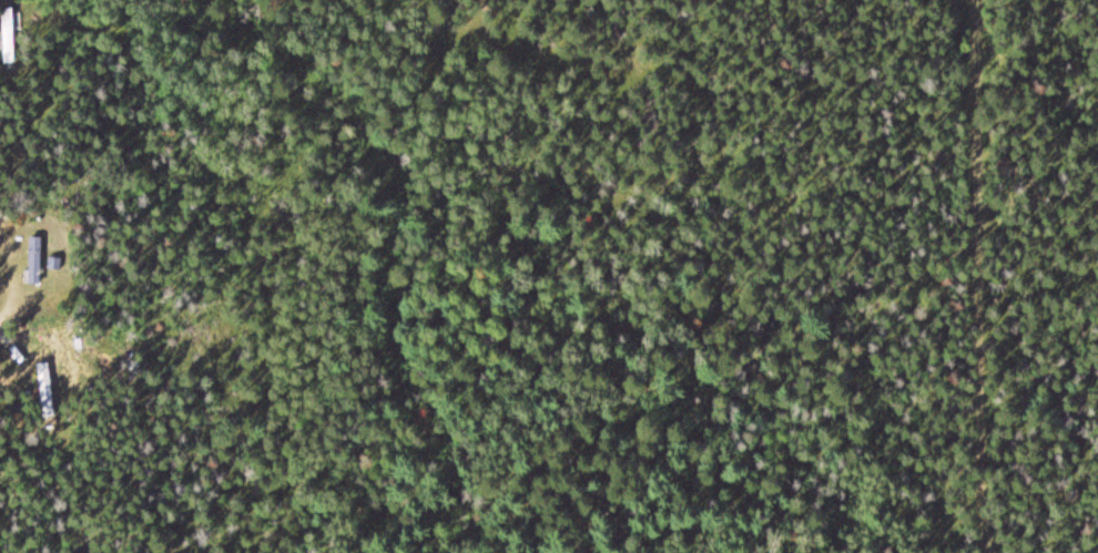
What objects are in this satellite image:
building: (8, 34)
building: (33, 260)
road: (47, 487)

